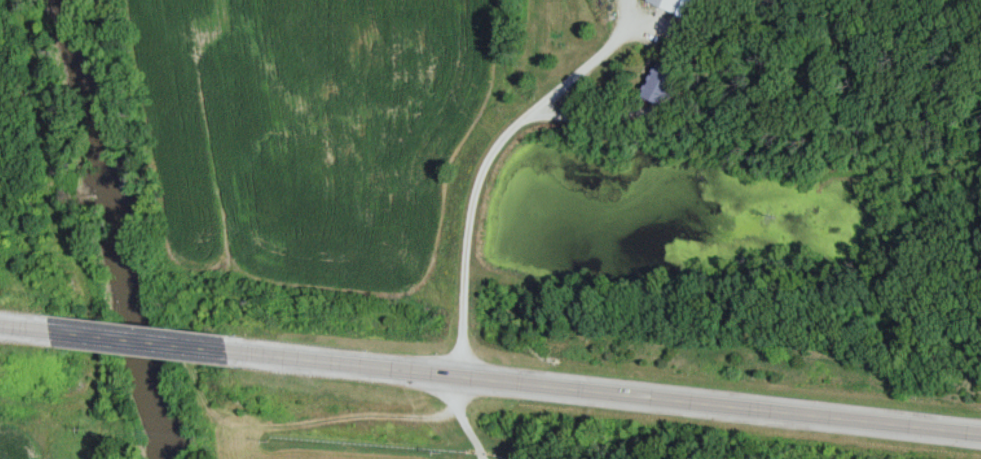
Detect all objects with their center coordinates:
building: (672, 4)
building: (662, 82)
river: (116, 230)
road: (29, 339)
road: (150, 350)
road: (612, 386)

